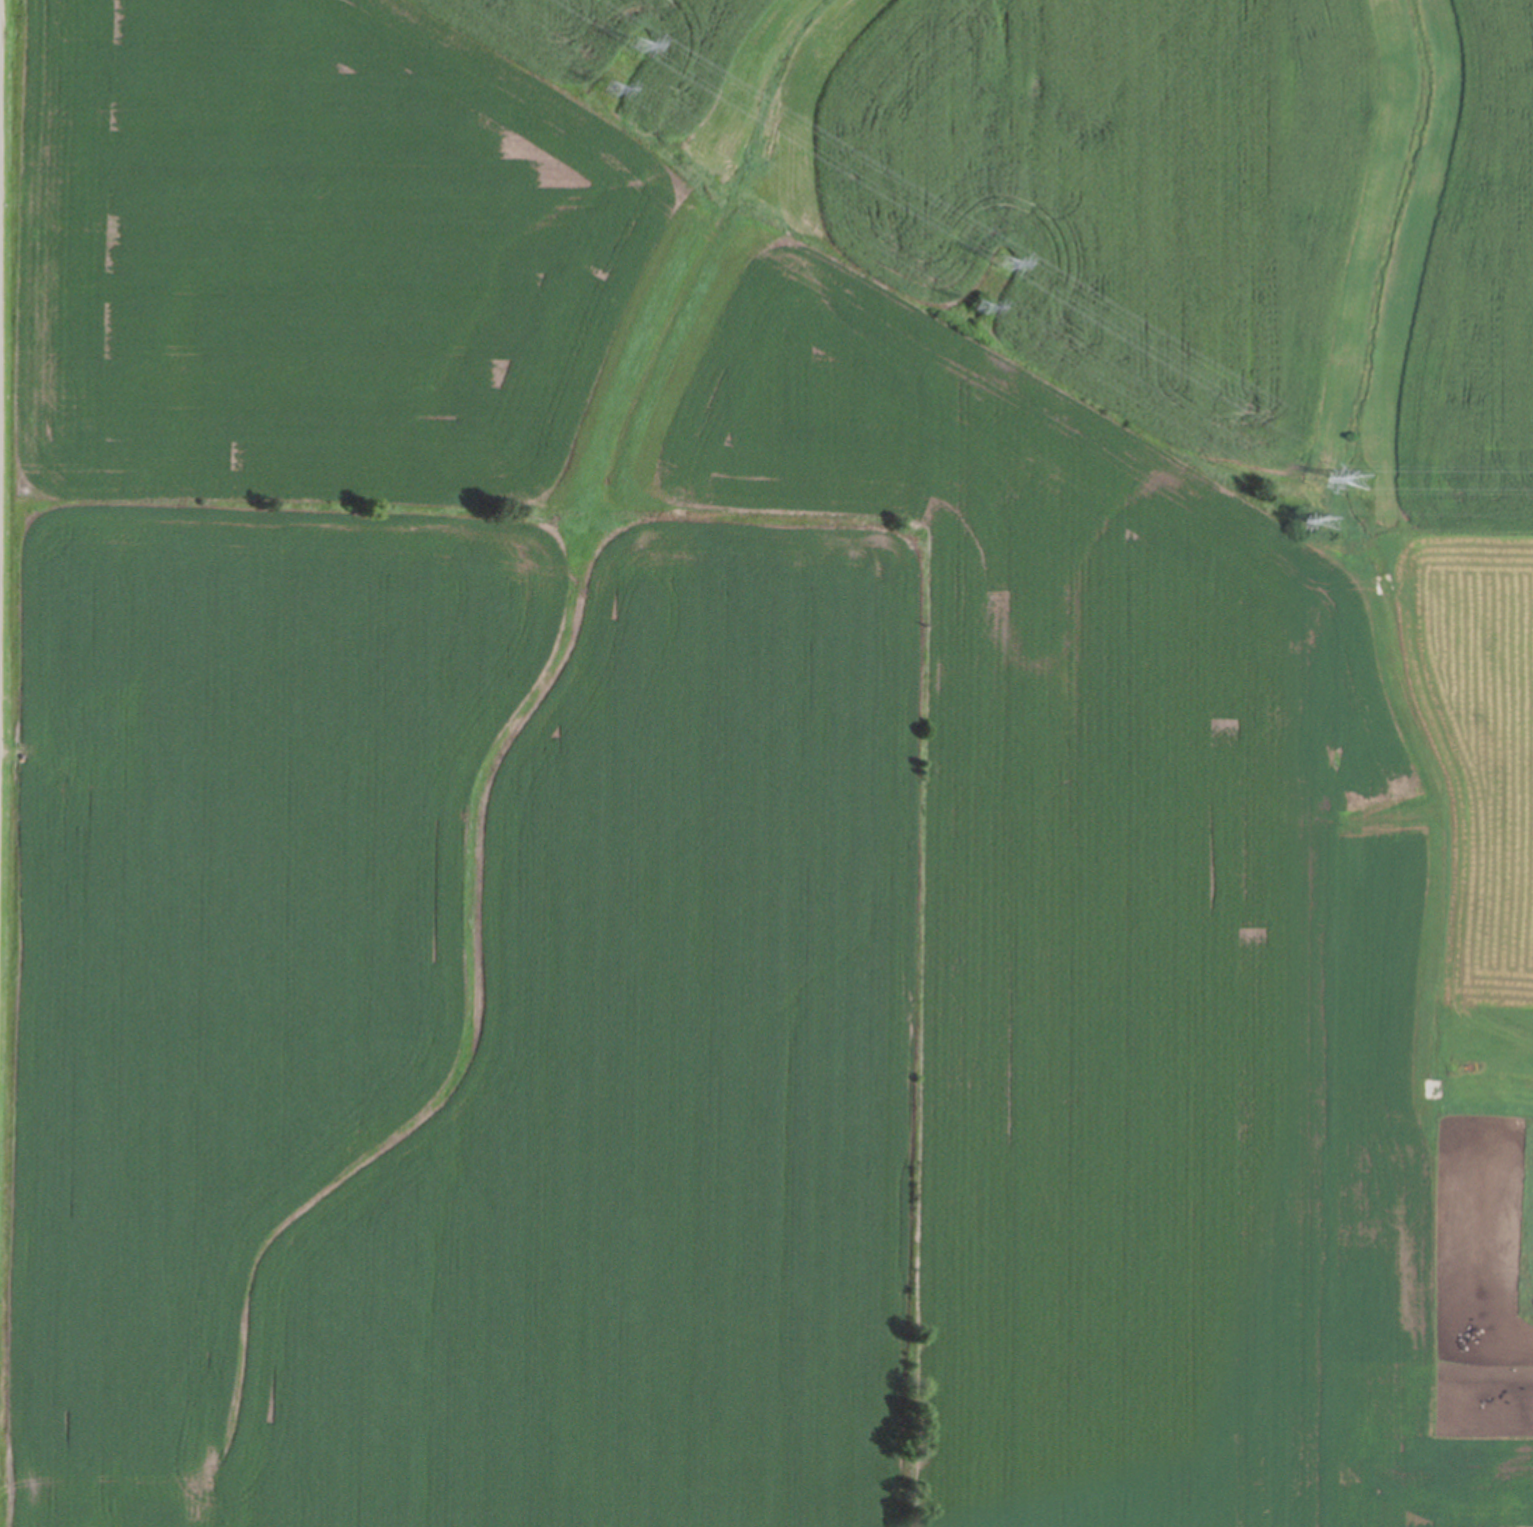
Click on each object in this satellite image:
power tower: (631, 44)
power tower: (604, 86)
power tower: (998, 262)
power tower: (973, 307)
power tower: (1366, 481)
power tower: (1336, 523)

